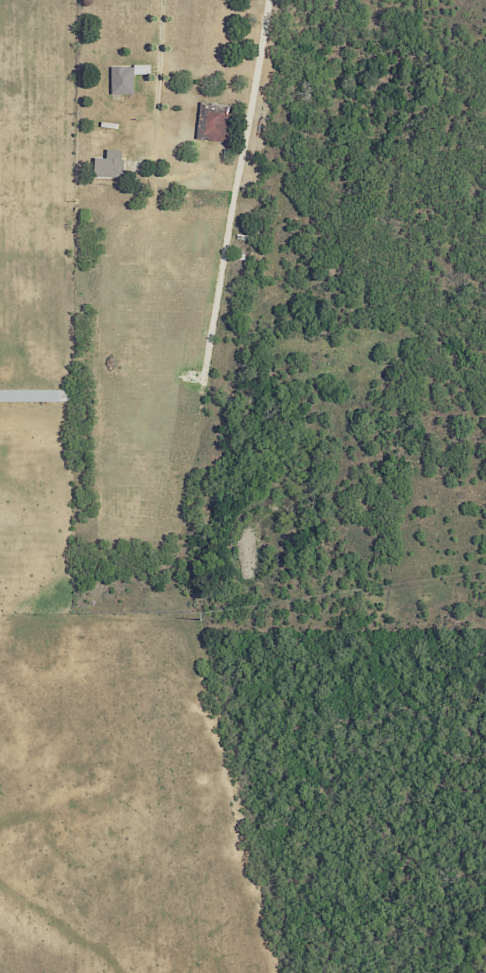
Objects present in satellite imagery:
building: (125, 78)
road: (155, 85)
building: (214, 123)
road: (245, 137)
building: (107, 168)
building: (46, 396)
power tower: (201, 617)

